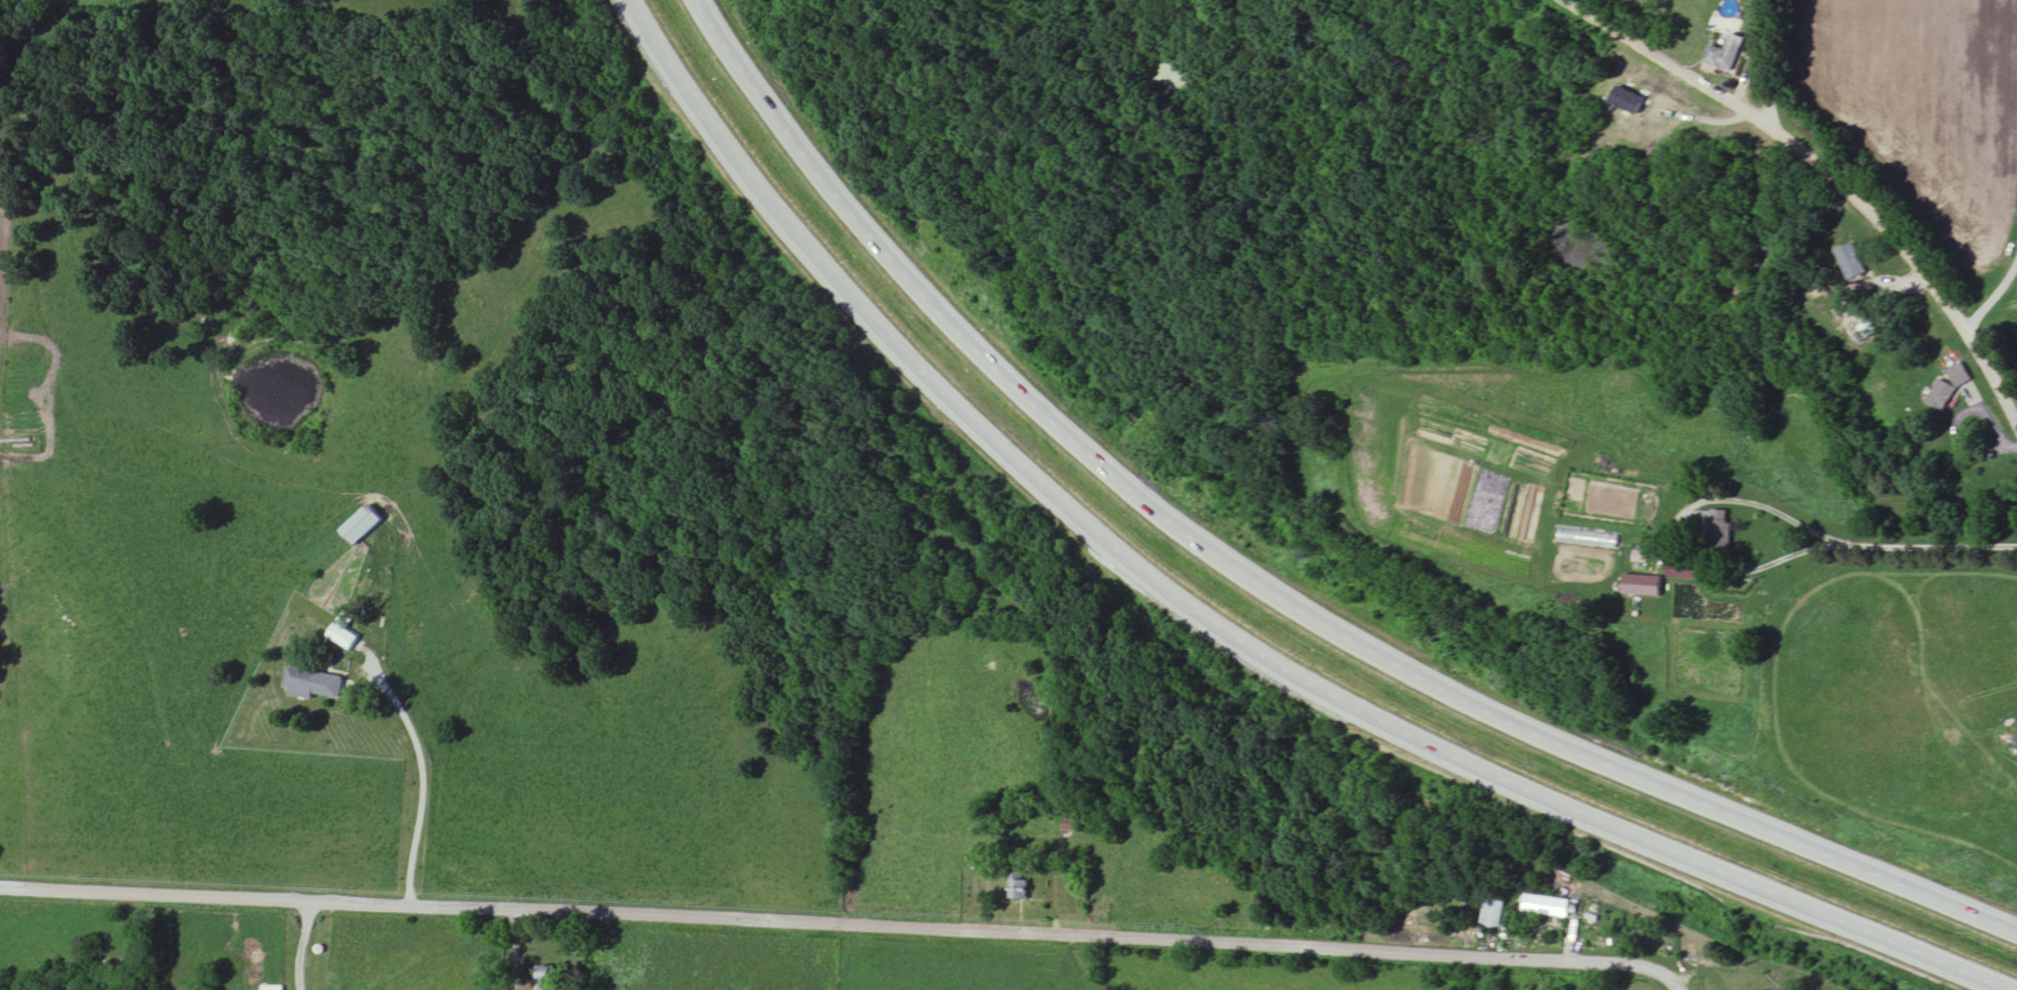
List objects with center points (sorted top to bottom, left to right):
building: (1725, 55)
building: (1627, 102)
crop: (1925, 108)
road: (1824, 171)
building: (1852, 264)
road: (1995, 316)
building: (1946, 391)
road: (1693, 508)
building: (361, 527)
building: (1716, 534)
road: (1923, 547)
road: (1267, 593)
road: (1220, 635)
building: (342, 636)
building: (304, 680)
road: (421, 776)
building: (1018, 886)
building: (1546, 906)
building: (1494, 913)
road: (842, 923)
road: (304, 946)
road: (516, 949)
road: (1703, 972)
building: (544, 978)
building: (272, 988)
road: (1678, 989)

